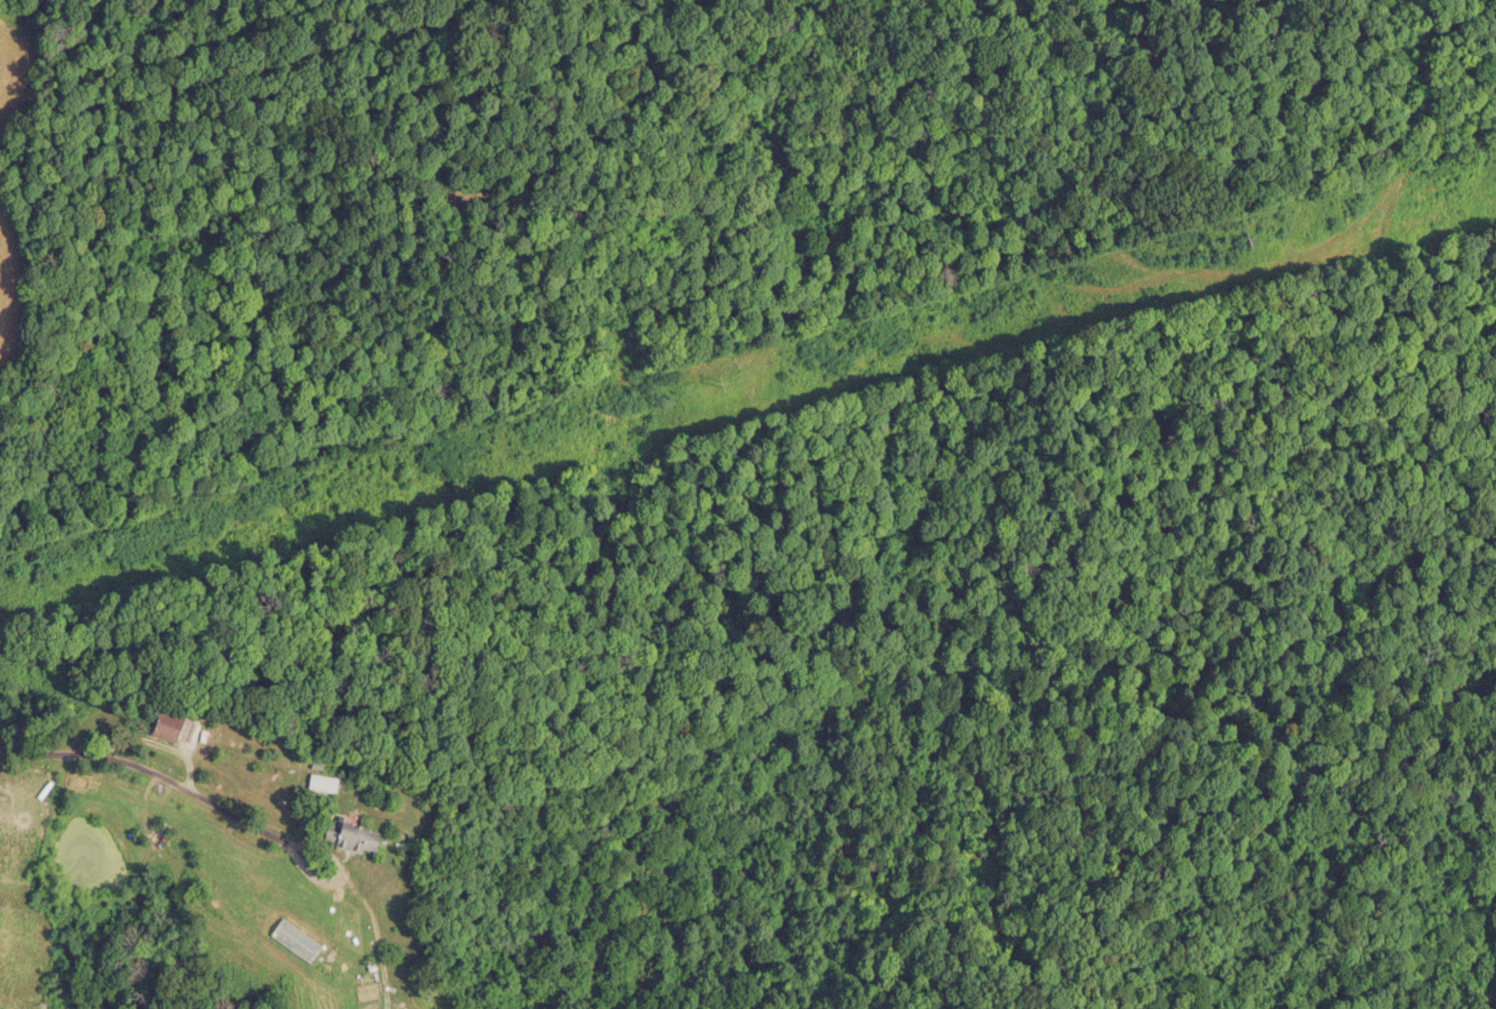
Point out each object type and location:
building: (159, 724)
building: (318, 782)
road: (145, 793)
building: (346, 835)
road: (225, 862)

